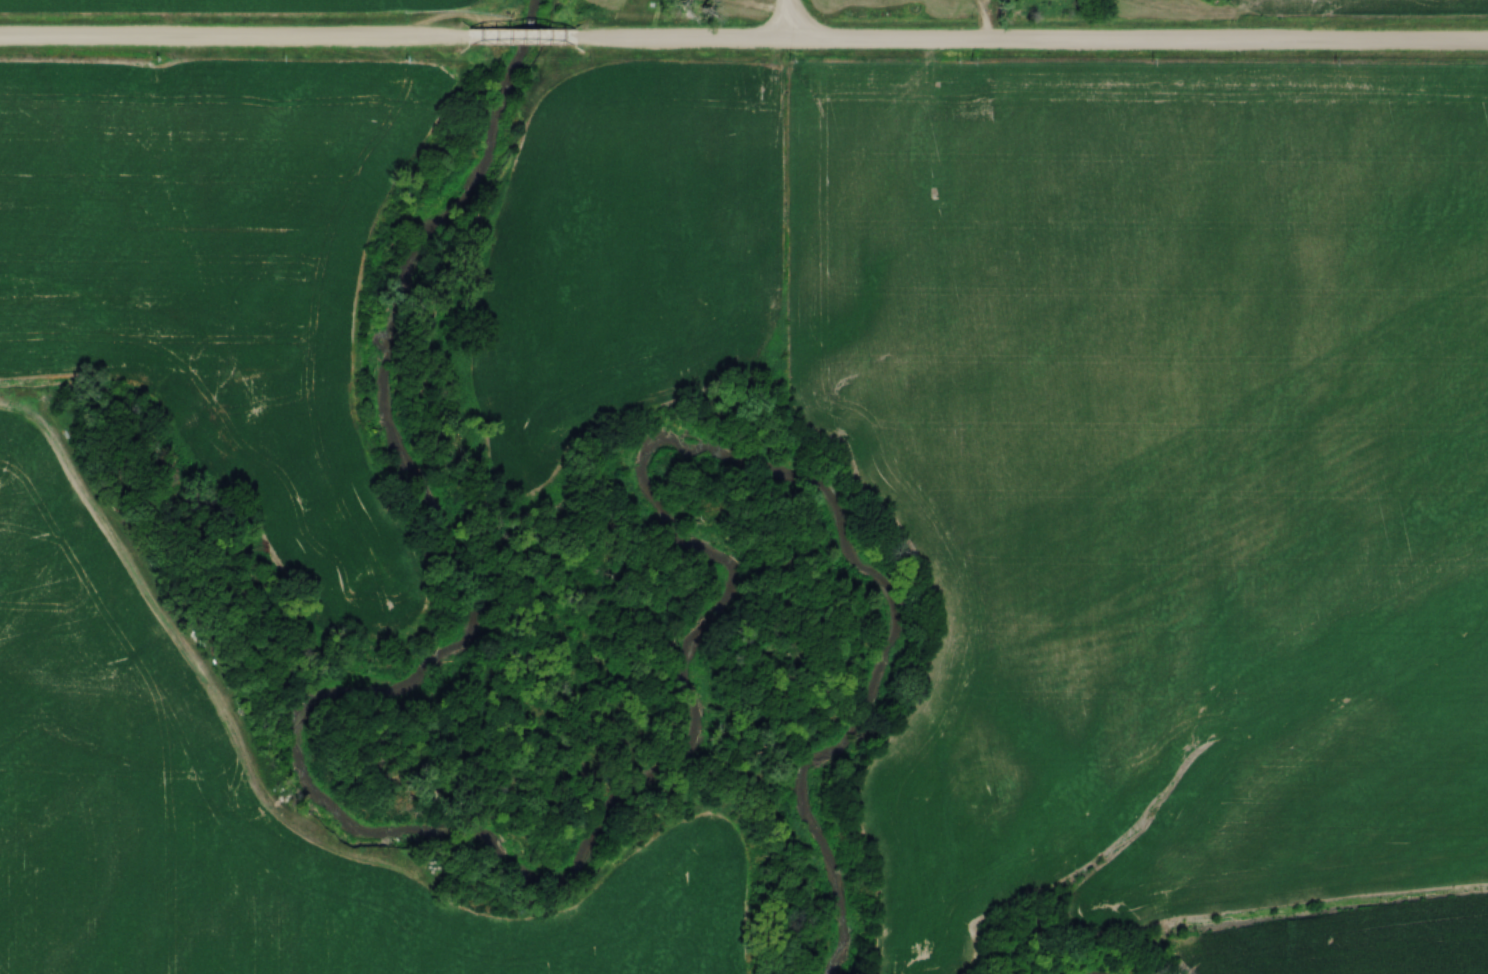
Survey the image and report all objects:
road: (787, 20)
road: (986, 20)
road: (240, 38)
road: (531, 39)
road: (1035, 42)
river: (583, 856)

